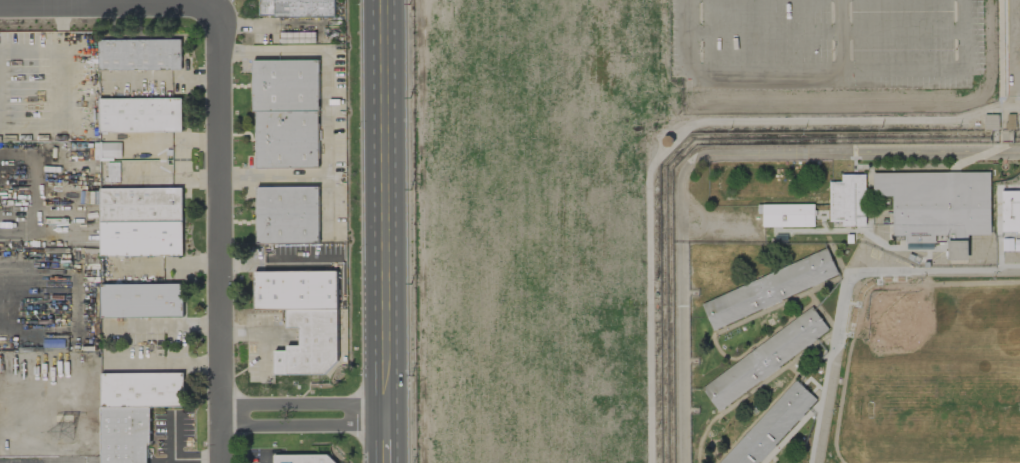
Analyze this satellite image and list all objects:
road: (214, 4)
building: (296, 8)
road: (105, 9)
road: (828, 31)
building: (297, 37)
parking lot: (825, 45)
road: (49, 51)
building: (139, 55)
parking lot: (1008, 63)
road: (939, 70)
road: (765, 71)
road: (324, 96)
building: (286, 113)
building: (139, 115)
building: (990, 122)
building: (669, 140)
building: (132, 141)
road: (664, 149)
building: (111, 160)
road: (303, 175)
building: (849, 201)
building: (936, 204)
road: (385, 209)
building: (1011, 211)
building: (287, 215)
building: (788, 216)
building: (140, 222)
road: (361, 231)
road: (406, 231)
road: (215, 235)
building: (919, 246)
road: (273, 258)
building: (769, 289)
building: (141, 300)
building: (302, 318)
road: (164, 327)
building: (766, 359)
road: (165, 361)
building: (133, 411)
road: (302, 418)
building: (771, 427)
power tower: (70, 429)
road: (385, 440)
road: (176, 459)
building: (305, 459)
road: (270, 461)

